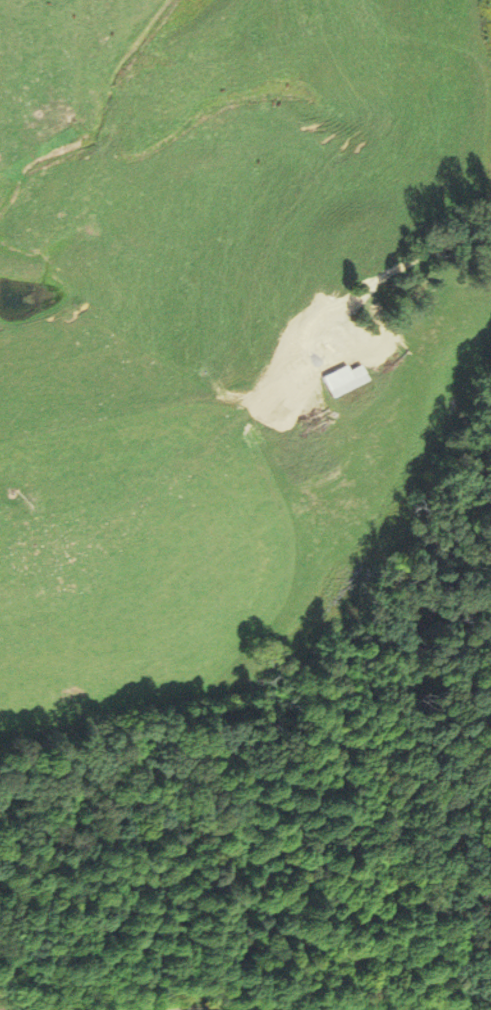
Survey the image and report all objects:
road: (390, 272)
building: (338, 378)

